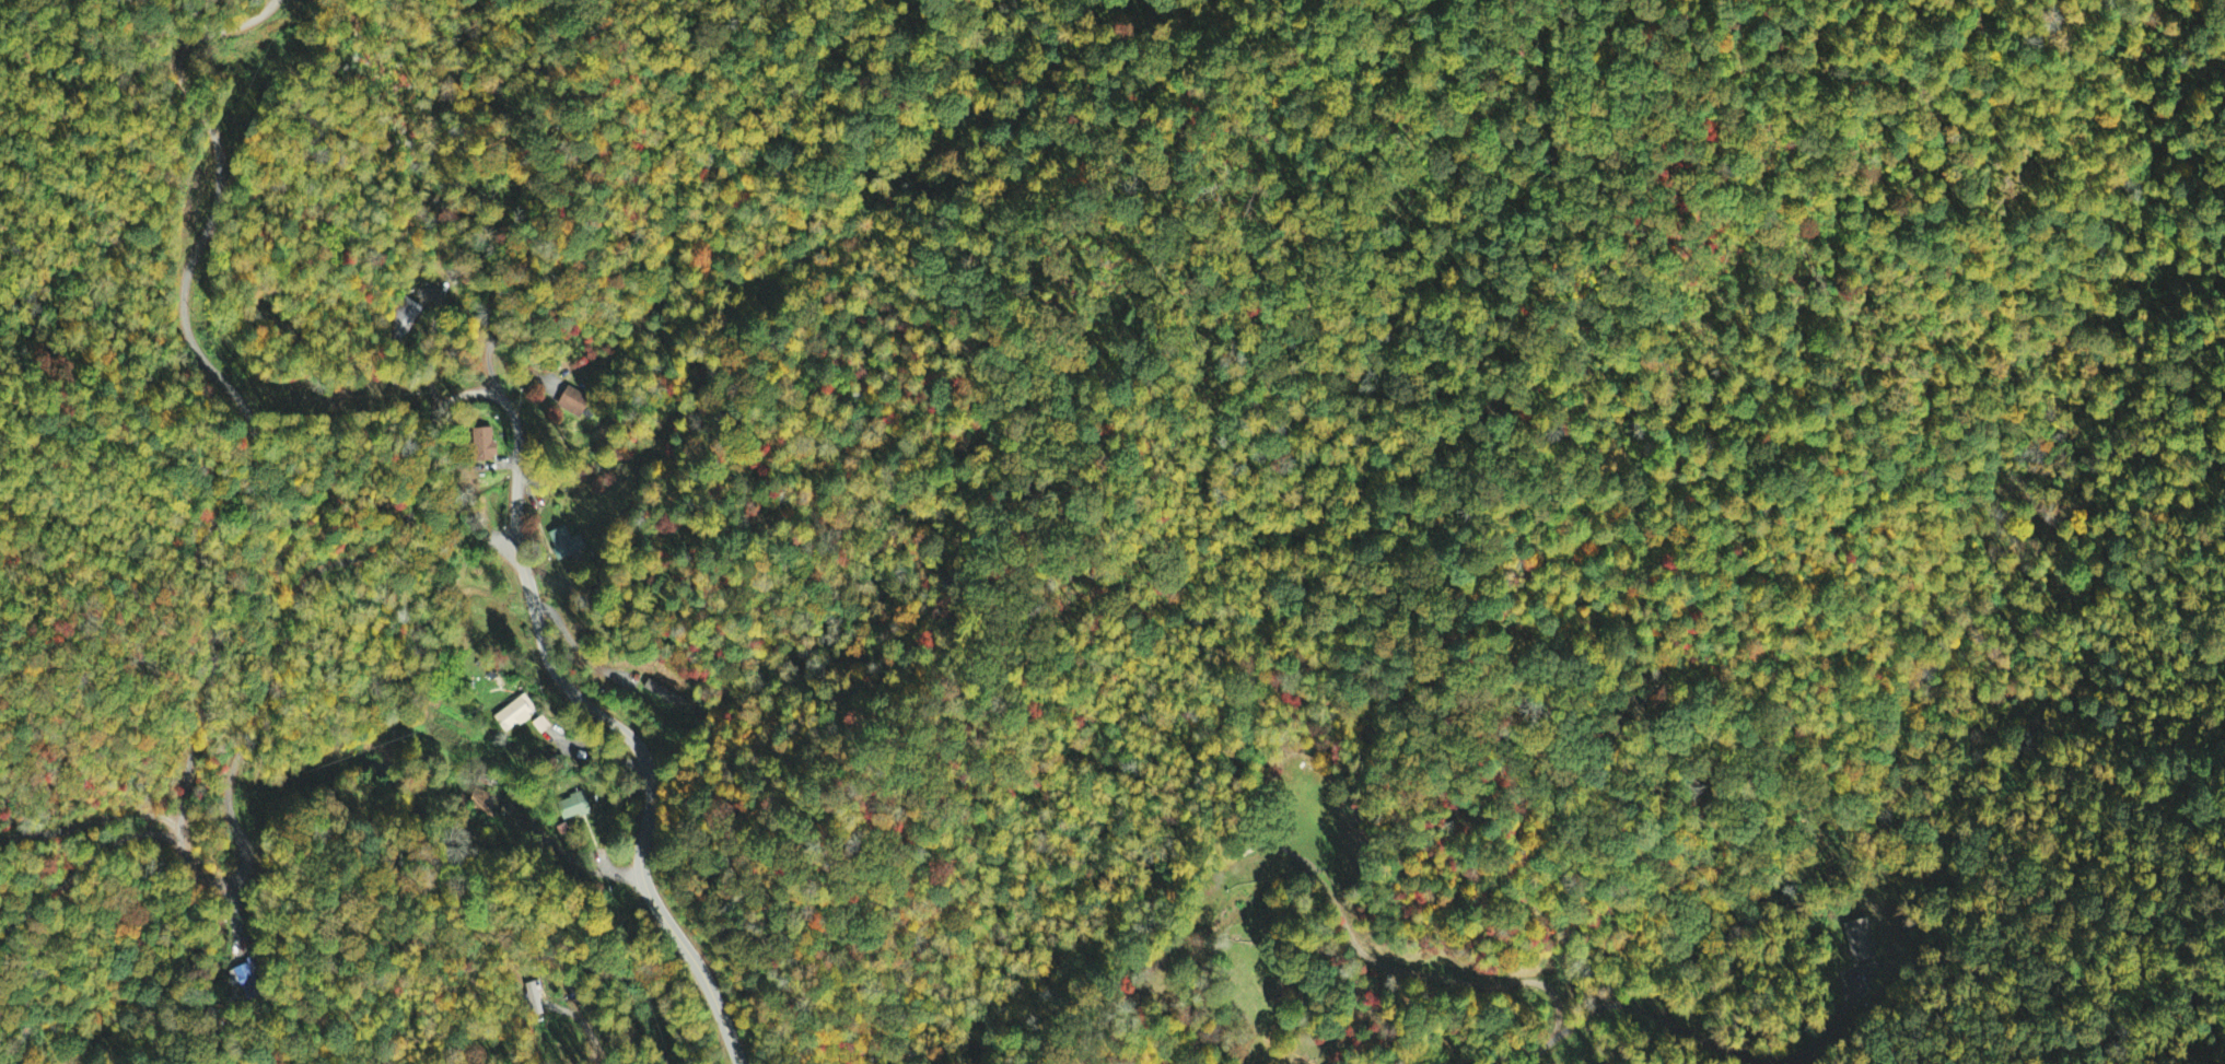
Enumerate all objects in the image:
building: (407, 315)
building: (578, 405)
building: (488, 443)
building: (567, 543)
building: (505, 615)
road: (207, 683)
building: (673, 695)
building: (517, 710)
road: (598, 712)
road: (599, 749)
building: (487, 802)
building: (576, 804)
road: (90, 821)
road: (579, 860)
road: (81, 867)
building: (1861, 942)
building: (226, 957)

